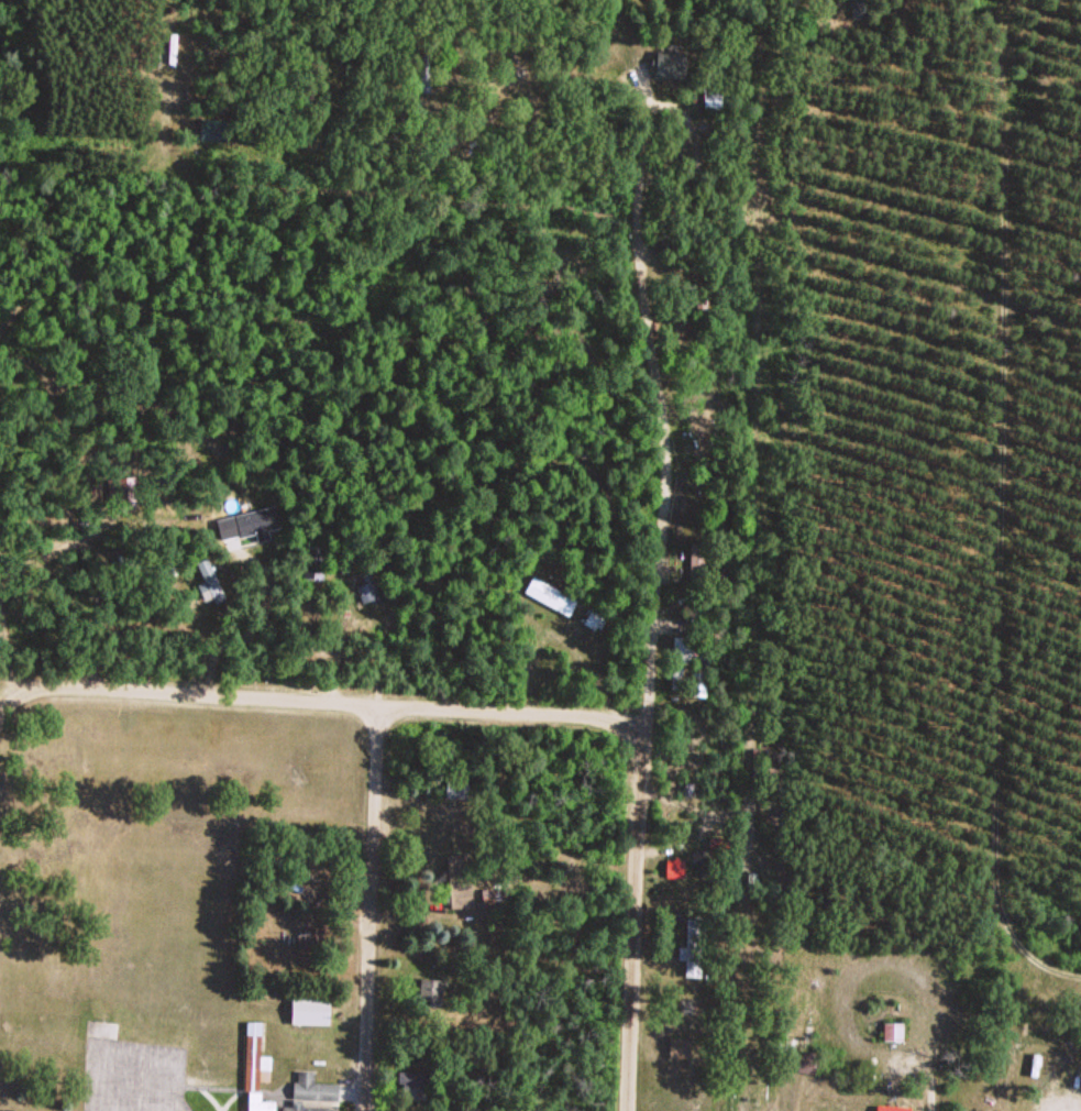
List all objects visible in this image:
building: (172, 42)
building: (526, 63)
building: (668, 63)
building: (424, 69)
road: (643, 85)
building: (710, 100)
road: (451, 110)
road: (493, 114)
road: (164, 127)
building: (211, 128)
road: (71, 166)
road: (305, 183)
building: (698, 309)
road: (652, 346)
road: (1004, 508)
building: (697, 558)
building: (312, 566)
building: (549, 594)
building: (593, 617)
building: (676, 661)
building: (699, 676)
road: (3, 700)
road: (322, 703)
road: (746, 726)
building: (454, 788)
building: (674, 867)
road: (372, 909)
road: (636, 921)
building: (692, 945)
building: (429, 988)
building: (688, 1007)
building: (307, 1009)
building: (891, 1031)
building: (677, 1046)
building: (253, 1067)
building: (412, 1085)
building: (309, 1090)
building: (890, 1108)

